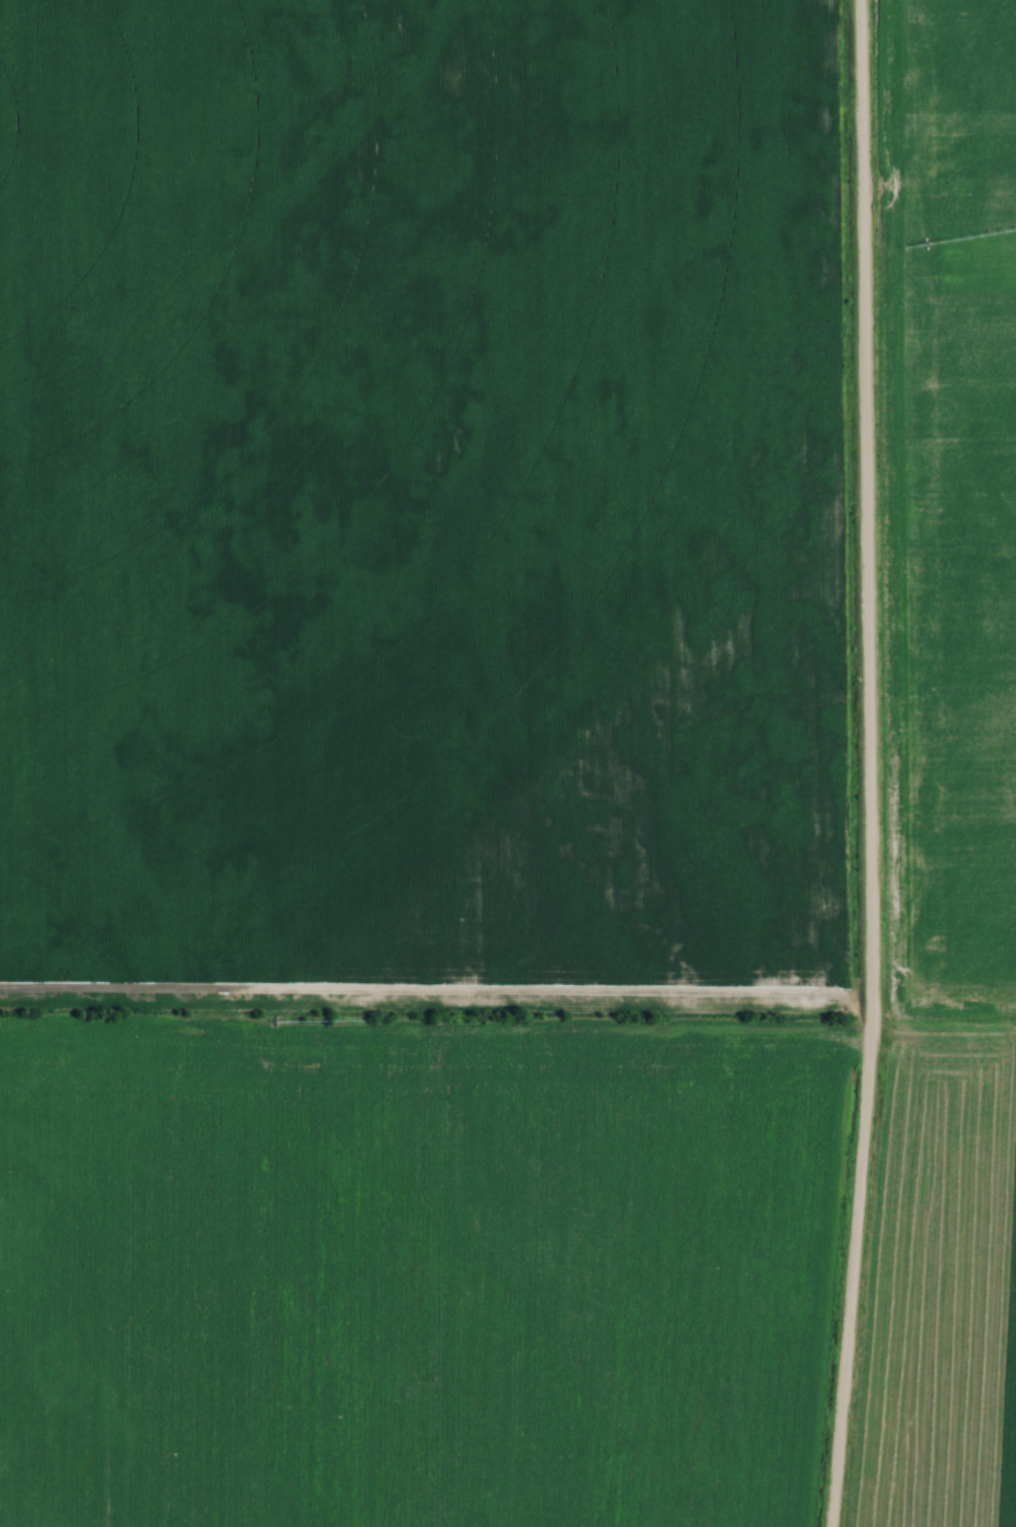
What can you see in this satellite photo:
road: (869, 764)

